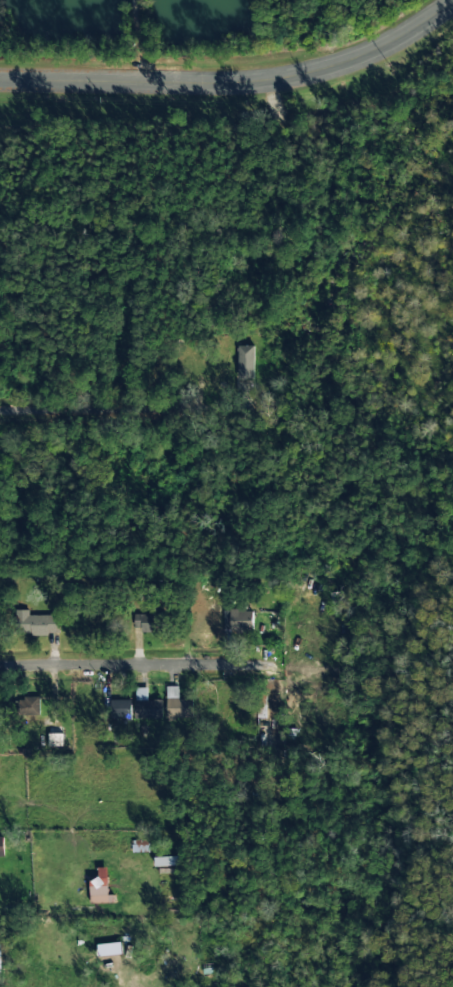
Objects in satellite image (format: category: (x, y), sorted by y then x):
road: (235, 73)
building: (245, 362)
road: (93, 413)
building: (336, 598)
building: (238, 621)
building: (146, 622)
building: (37, 624)
road: (138, 668)
building: (177, 704)
building: (146, 705)
building: (27, 706)
building: (120, 709)
building: (2, 847)
building: (99, 886)
building: (109, 949)
building: (0, 957)

